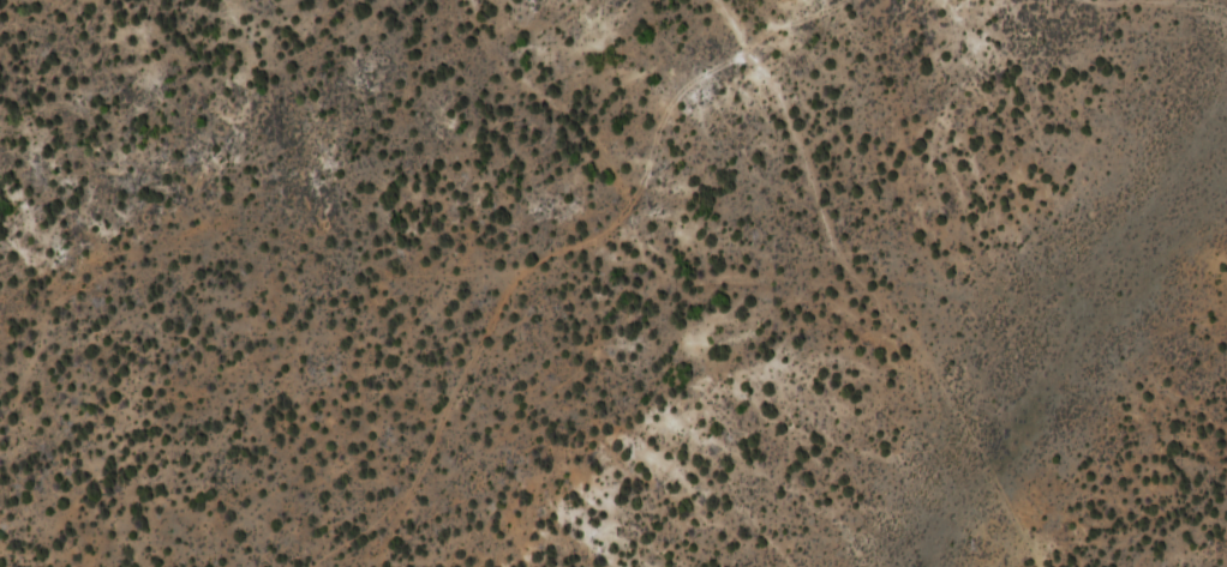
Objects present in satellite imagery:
road: (867, 288)

